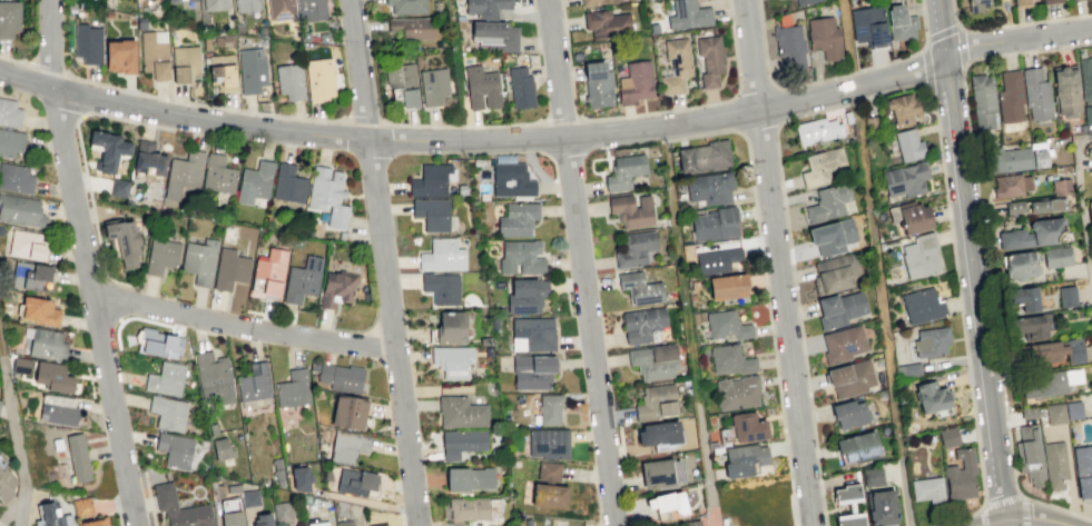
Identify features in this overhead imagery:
building: (888, 0)
building: (1071, 0)
building: (187, 1)
building: (800, 1)
building: (1049, 1)
building: (602, 2)
building: (1021, 3)
building: (976, 4)
building: (222, 6)
building: (252, 6)
building: (412, 7)
building: (490, 8)
building: (286, 10)
building: (316, 10)
building: (688, 14)
building: (12, 20)
road: (367, 23)
building: (899, 23)
road: (1011, 24)
road: (534, 26)
building: (612, 26)
building: (868, 26)
building: (417, 28)
road: (938, 32)
building: (823, 36)
building: (500, 37)
road: (1020, 41)
building: (94, 44)
building: (789, 46)
road: (567, 48)
road: (548, 51)
building: (128, 56)
building: (161, 56)
road: (10, 58)
building: (710, 59)
road: (43, 64)
building: (190, 64)
building: (683, 68)
building: (258, 72)
building: (227, 73)
road: (829, 77)
building: (1085, 79)
building: (324, 80)
building: (296, 82)
building: (639, 83)
building: (407, 86)
building: (603, 86)
building: (437, 87)
road: (755, 87)
building: (524, 89)
building: (485, 90)
building: (1065, 91)
road: (73, 92)
building: (1036, 95)
road: (568, 97)
building: (1009, 97)
building: (982, 101)
road: (200, 102)
road: (707, 103)
building: (907, 110)
building: (12, 112)
building: (1088, 115)
road: (360, 117)
road: (559, 118)
road: (459, 125)
building: (820, 132)
road: (476, 141)
building: (13, 143)
building: (913, 146)
building: (115, 151)
building: (709, 157)
building: (1015, 159)
building: (155, 160)
road: (82, 163)
building: (827, 168)
building: (629, 172)
building: (189, 175)
building: (224, 176)
road: (540, 176)
building: (911, 179)
building: (19, 180)
building: (435, 181)
building: (517, 181)
building: (259, 183)
building: (294, 187)
building: (1014, 187)
building: (1060, 188)
building: (124, 189)
building: (715, 189)
building: (334, 199)
road: (1083, 202)
building: (834, 205)
building: (1047, 206)
building: (1089, 210)
building: (23, 211)
building: (636, 211)
building: (437, 215)
building: (915, 218)
building: (522, 220)
building: (719, 225)
road: (874, 229)
building: (1031, 236)
building: (835, 237)
building: (130, 242)
building: (32, 246)
building: (639, 249)
road: (974, 250)
road: (986, 254)
building: (167, 256)
building: (447, 256)
building: (925, 257)
building: (527, 258)
building: (1056, 258)
building: (206, 261)
road: (384, 262)
road: (582, 262)
building: (726, 262)
road: (780, 262)
road: (86, 264)
building: (1019, 267)
building: (236, 269)
road: (679, 269)
building: (276, 276)
building: (836, 276)
building: (46, 278)
building: (308, 281)
road: (794, 284)
building: (343, 288)
building: (446, 288)
building: (643, 288)
building: (735, 288)
road: (765, 289)
building: (531, 296)
building: (1066, 296)
road: (114, 298)
building: (1032, 300)
building: (925, 307)
building: (844, 309)
building: (43, 312)
road: (131, 317)
road: (962, 318)
building: (647, 324)
road: (243, 325)
building: (731, 326)
building: (1036, 327)
building: (459, 329)
building: (537, 335)
building: (936, 343)
building: (163, 344)
building: (846, 345)
building: (52, 346)
building: (1049, 353)
building: (1081, 353)
road: (1, 356)
building: (736, 359)
building: (459, 363)
building: (659, 363)
building: (29, 367)
building: (539, 371)
building: (346, 378)
building: (62, 379)
building: (856, 379)
building: (171, 380)
building: (218, 380)
building: (1057, 383)
building: (260, 384)
building: (297, 390)
road: (604, 390)
building: (742, 394)
building: (939, 398)
building: (662, 404)
building: (63, 409)
building: (554, 409)
building: (1073, 409)
building: (173, 413)
building: (357, 413)
building: (466, 413)
building: (1054, 413)
building: (857, 414)
road: (618, 424)
building: (756, 429)
building: (668, 435)
building: (954, 438)
building: (468, 443)
road: (17, 444)
building: (553, 444)
building: (865, 447)
building: (222, 448)
building: (353, 448)
building: (180, 450)
building: (1030, 453)
building: (82, 459)
building: (750, 460)
road: (607, 463)
building: (1055, 466)
road: (705, 469)
building: (1083, 469)
building: (666, 476)
building: (873, 476)
building: (966, 477)
building: (307, 479)
building: (476, 479)
building: (4, 482)
building: (361, 483)
building: (555, 488)
building: (933, 490)
road: (908, 493)
road: (594, 495)
building: (249, 498)
road: (1007, 500)
building: (679, 504)
building: (856, 506)
building: (88, 507)
building: (173, 507)
building: (893, 508)
road: (1011, 508)
building: (474, 510)
building: (282, 512)
building: (59, 513)
building: (238, 513)
road: (1022, 516)
road: (401, 517)
building: (270, 520)
building: (105, 523)
building: (348, 524)
road: (0, 525)
building: (327, 525)
building: (383, 525)
building: (696, 525)

